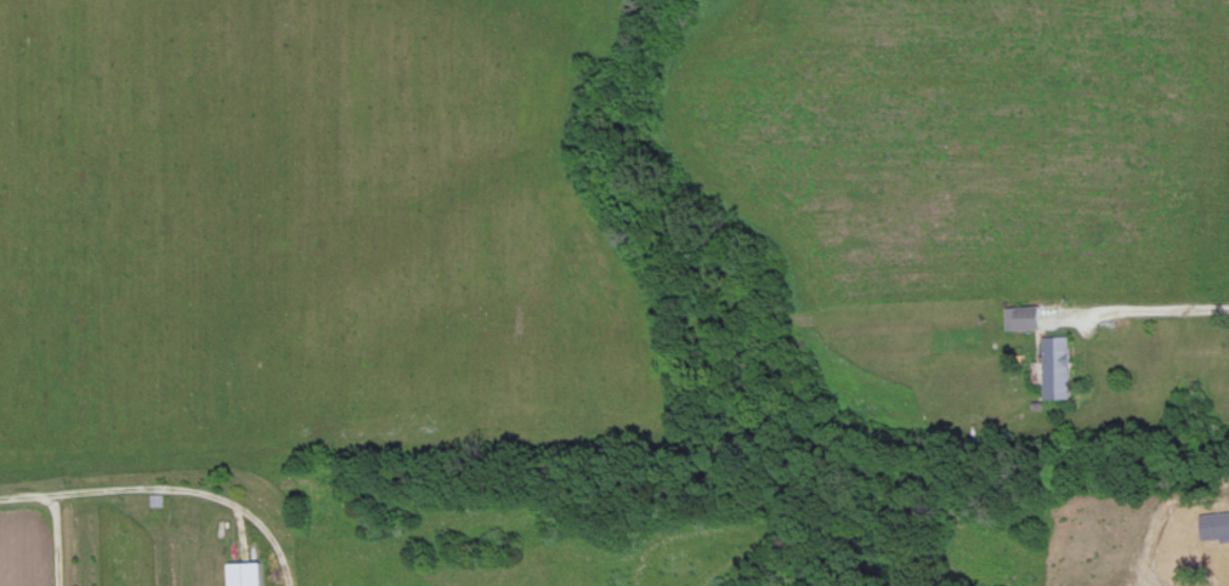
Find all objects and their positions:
road: (1142, 313)
building: (1020, 315)
building: (1055, 365)
road: (168, 489)
building: (243, 573)

